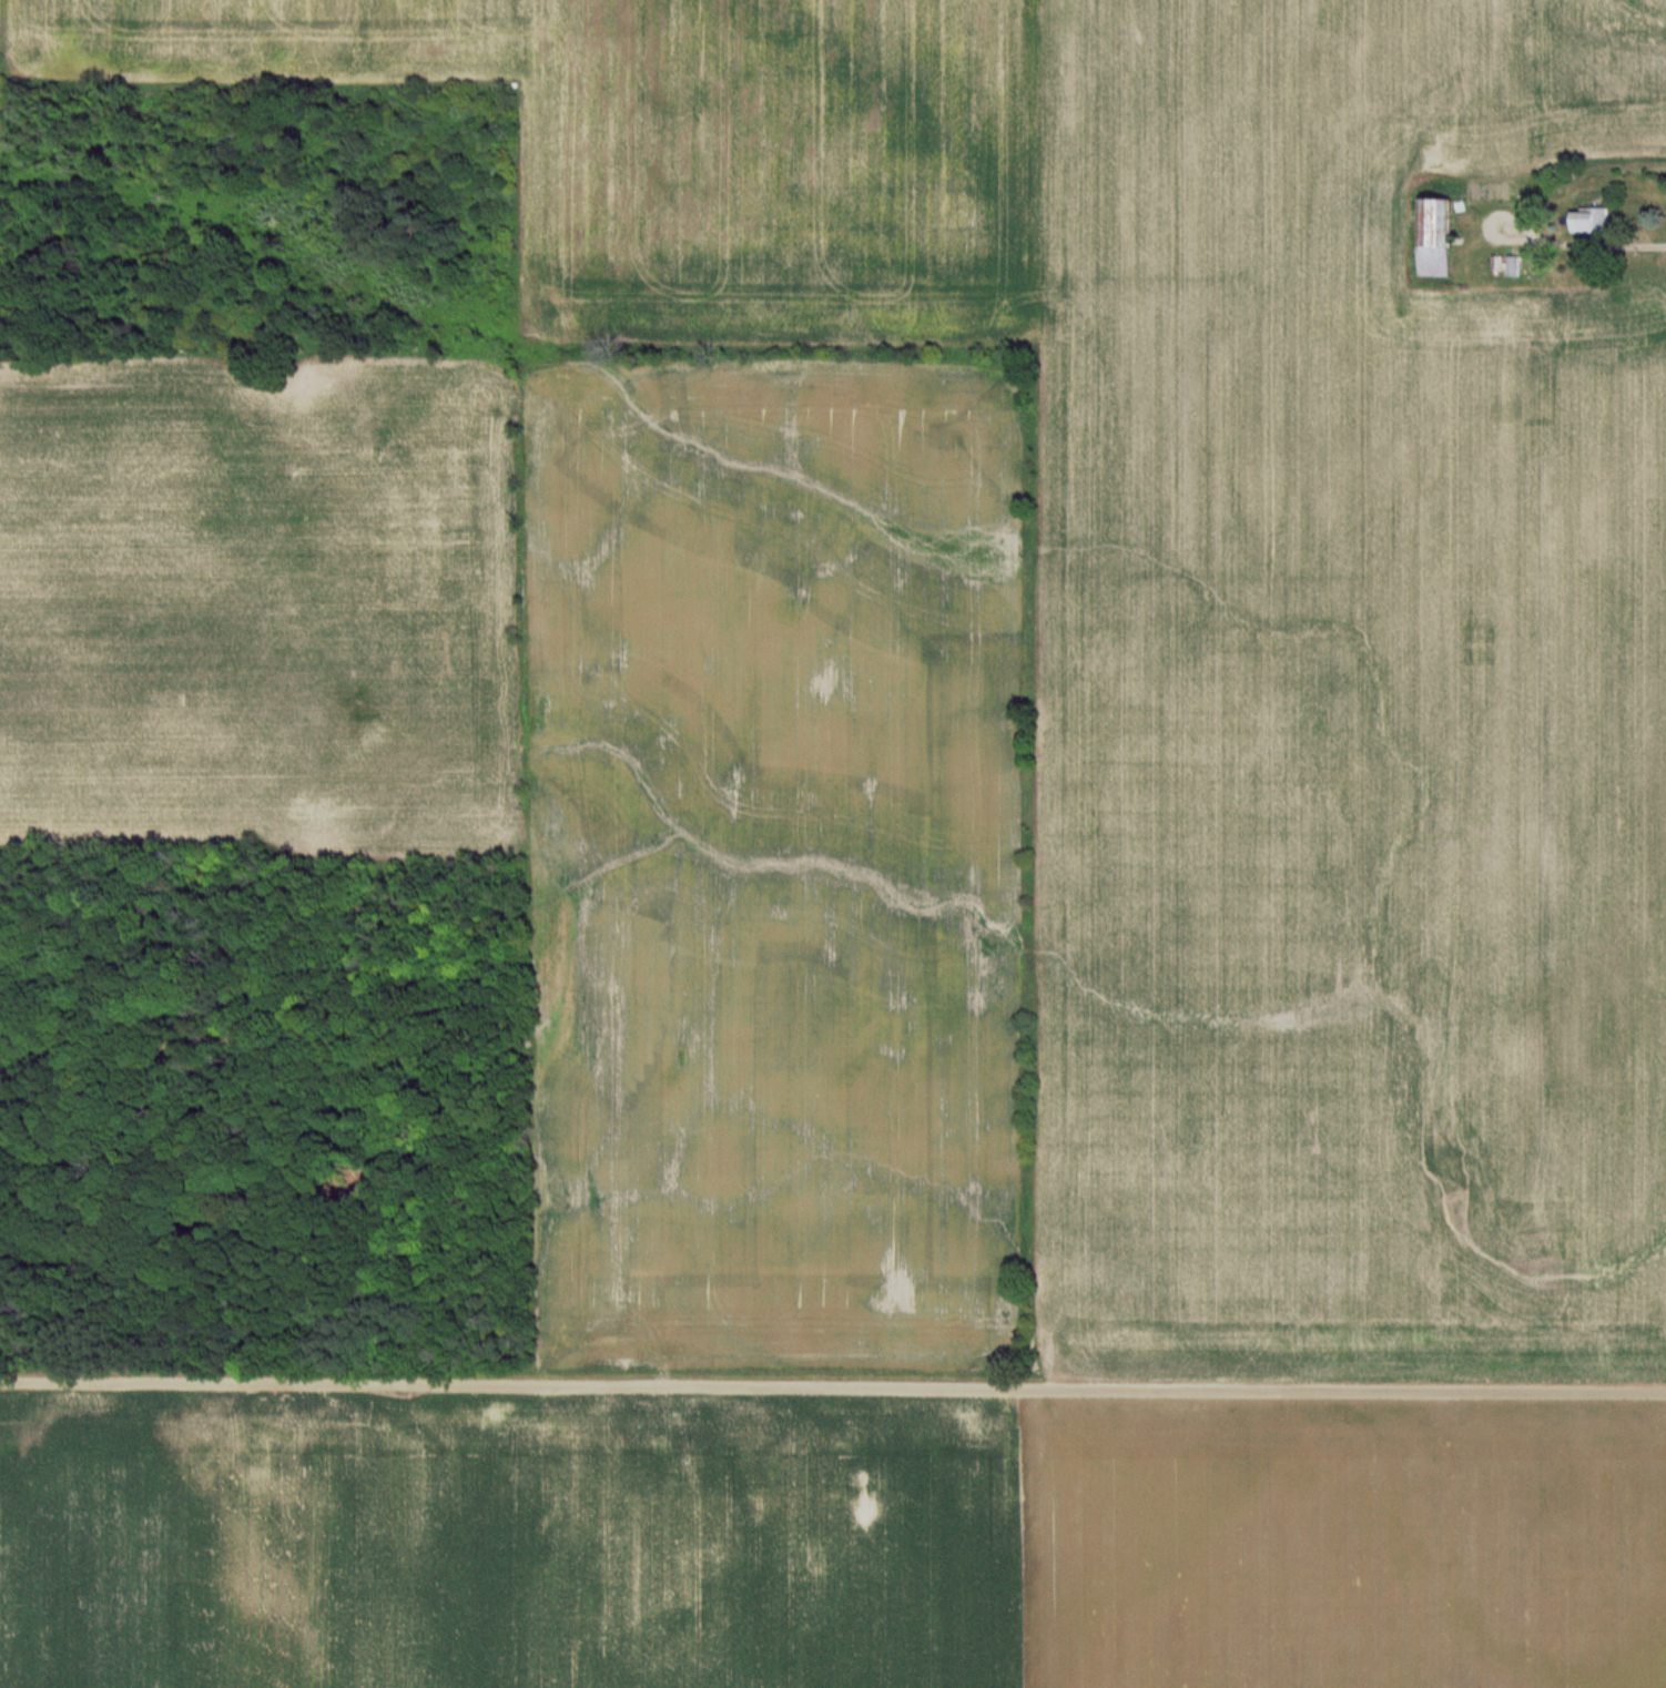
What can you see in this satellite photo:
building: (1597, 221)
building: (1441, 237)
road: (1584, 246)
building: (1570, 333)
road: (833, 1386)

